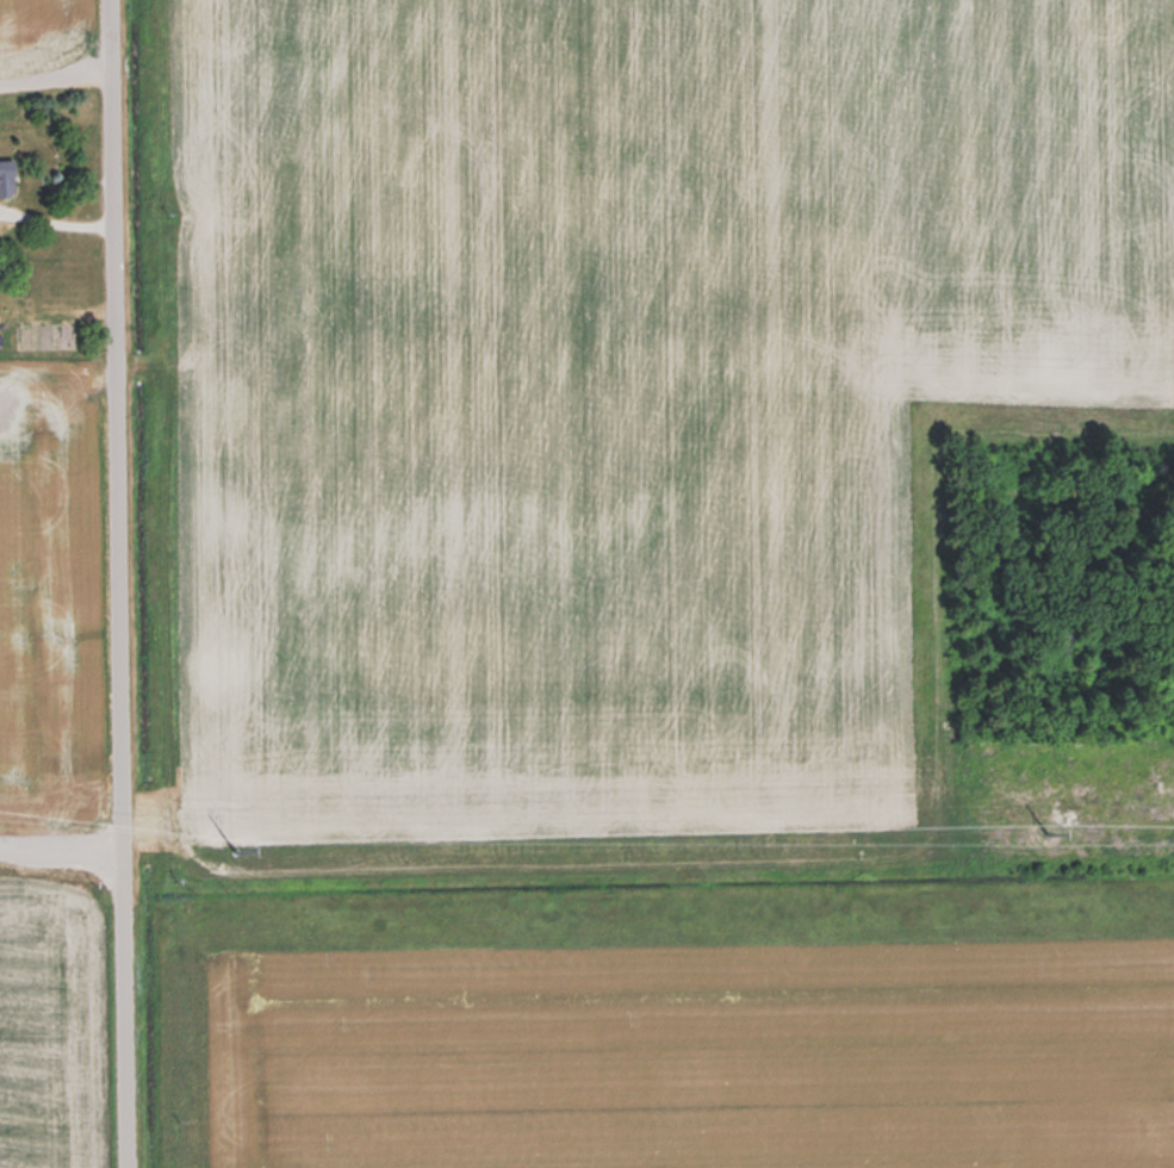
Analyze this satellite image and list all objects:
road: (56, 69)
building: (8, 176)
road: (122, 584)
road: (63, 843)

